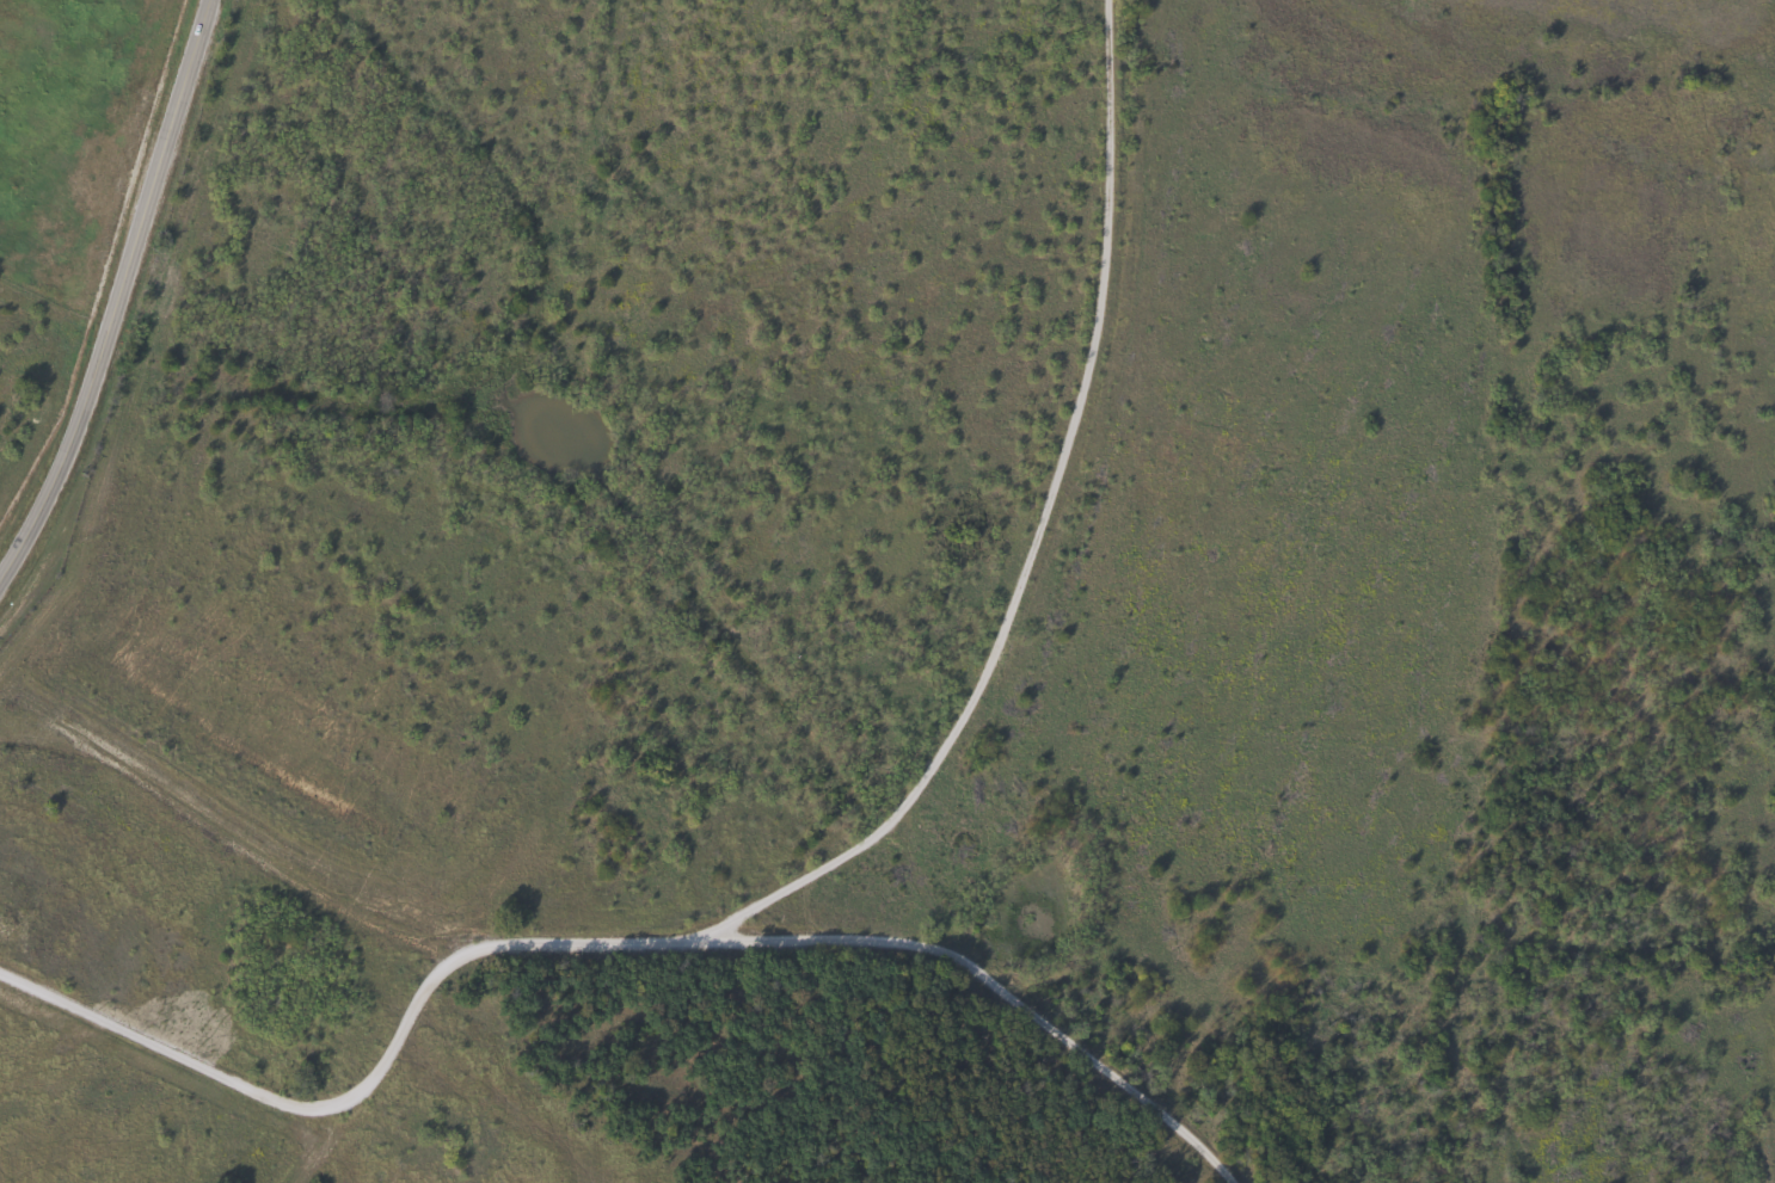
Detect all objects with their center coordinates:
road: (121, 294)
road: (603, 945)

